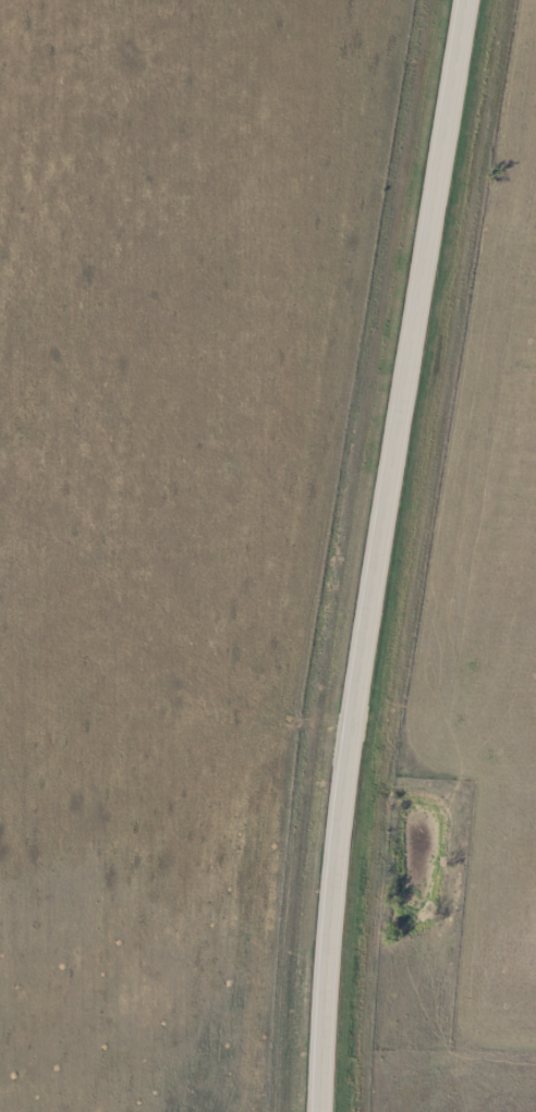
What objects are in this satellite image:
road: (380, 553)

